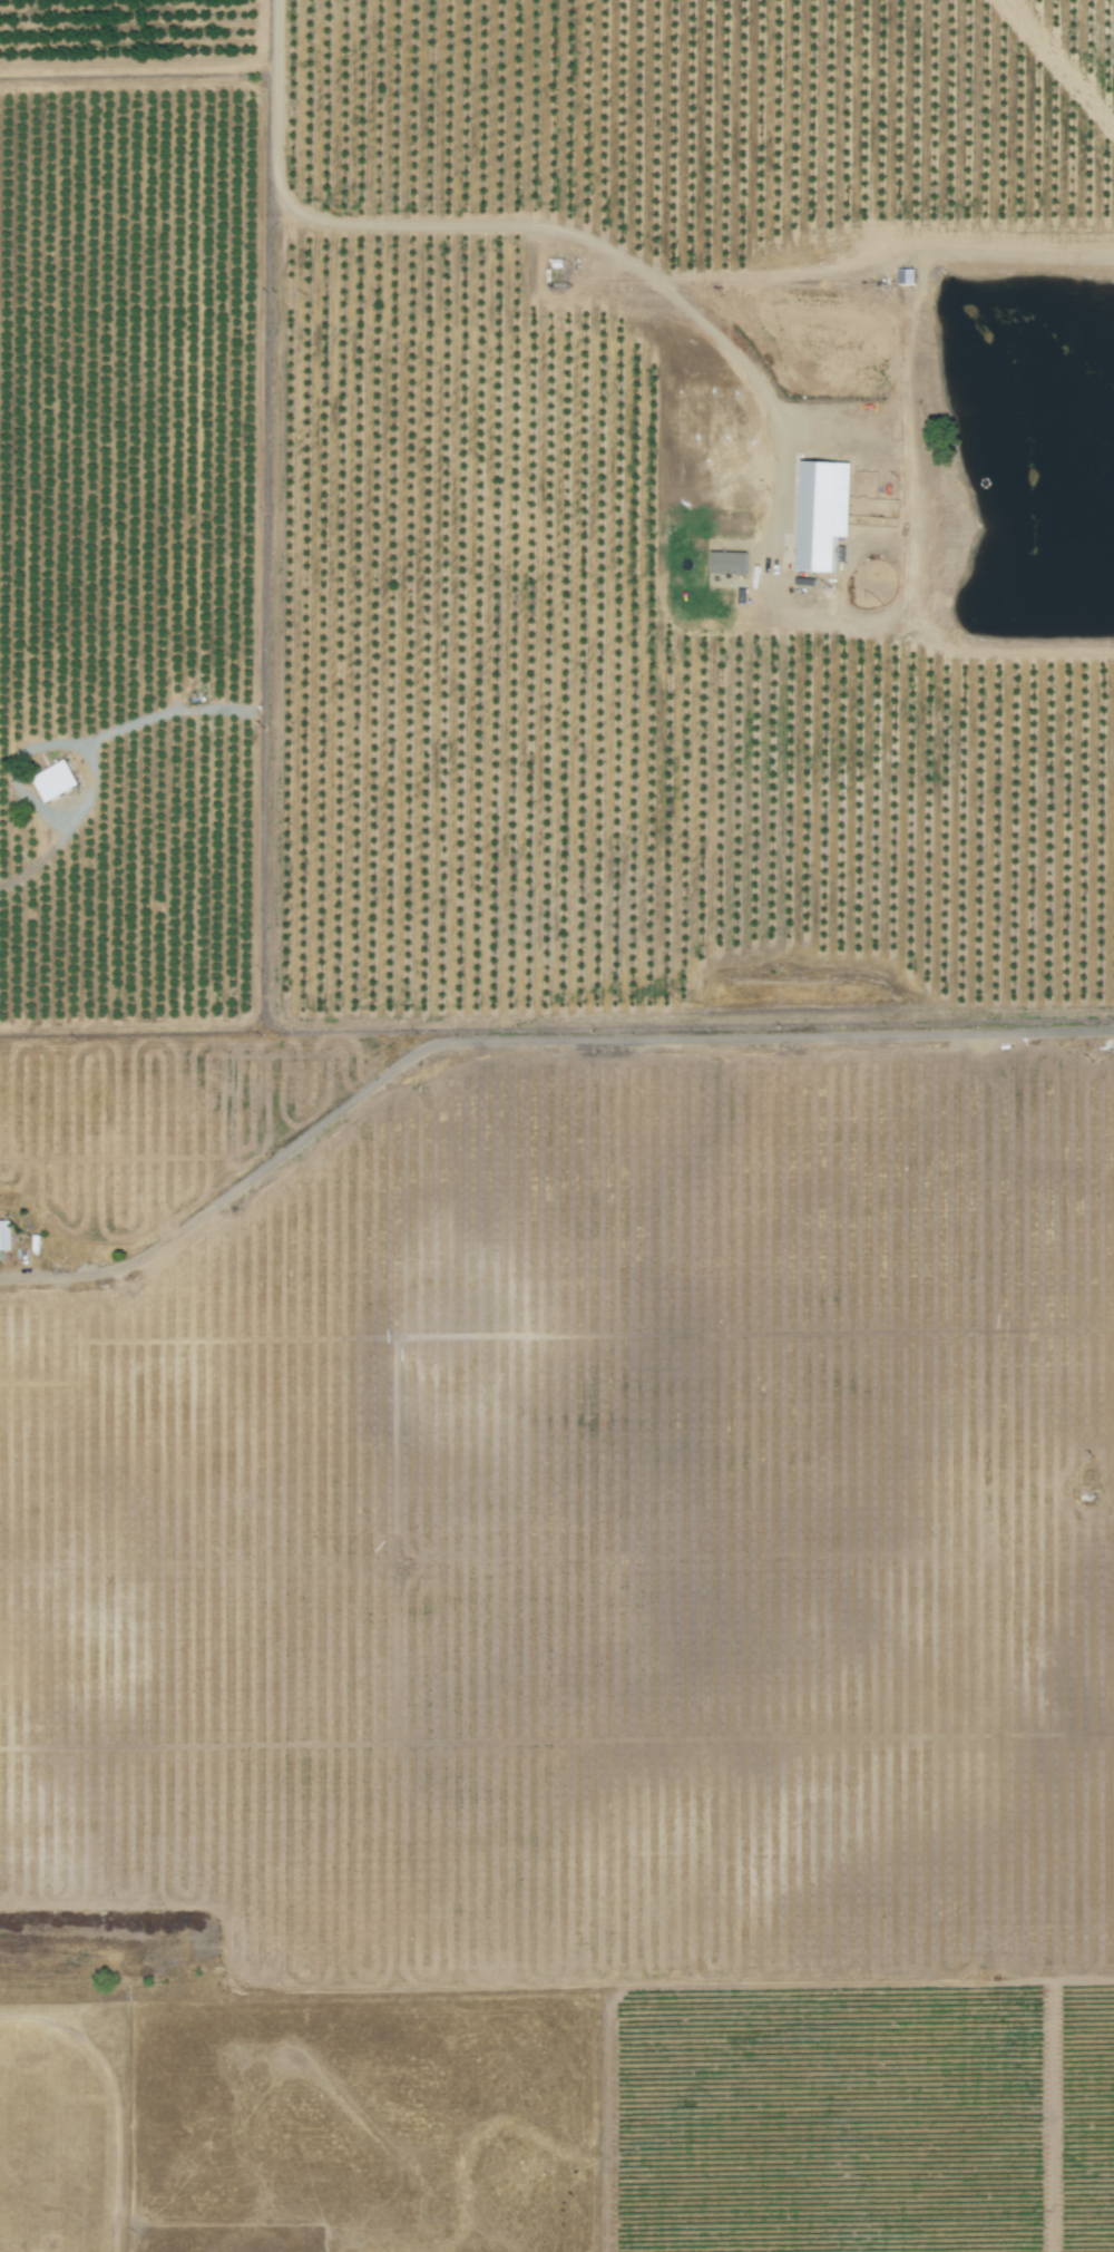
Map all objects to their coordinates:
road: (504, 227)
road: (765, 279)
building: (815, 513)
building: (721, 560)
road: (49, 738)
building: (59, 781)
road: (23, 876)
road: (519, 1040)
building: (6, 1235)
road: (983, 1502)

